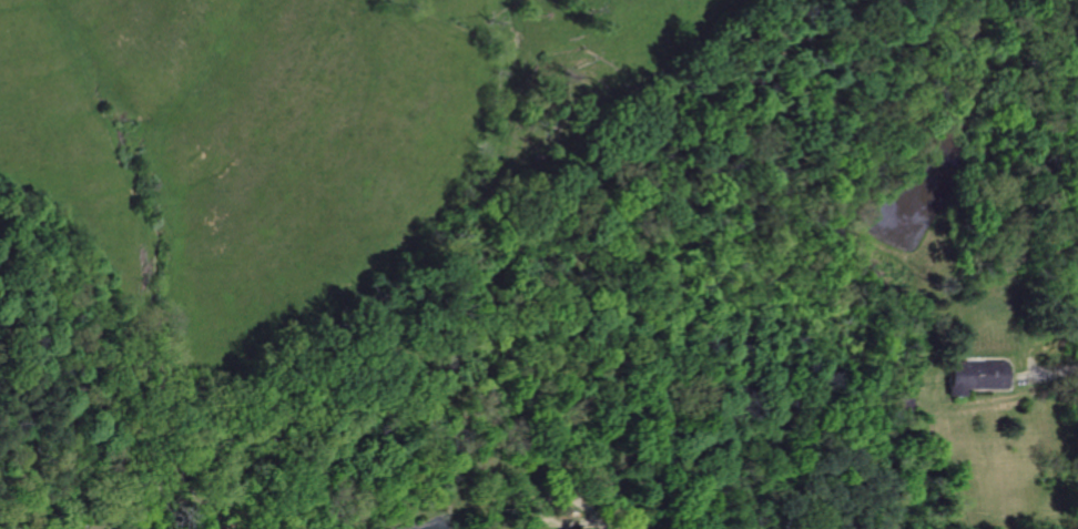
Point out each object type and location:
road: (1058, 365)
building: (976, 376)

